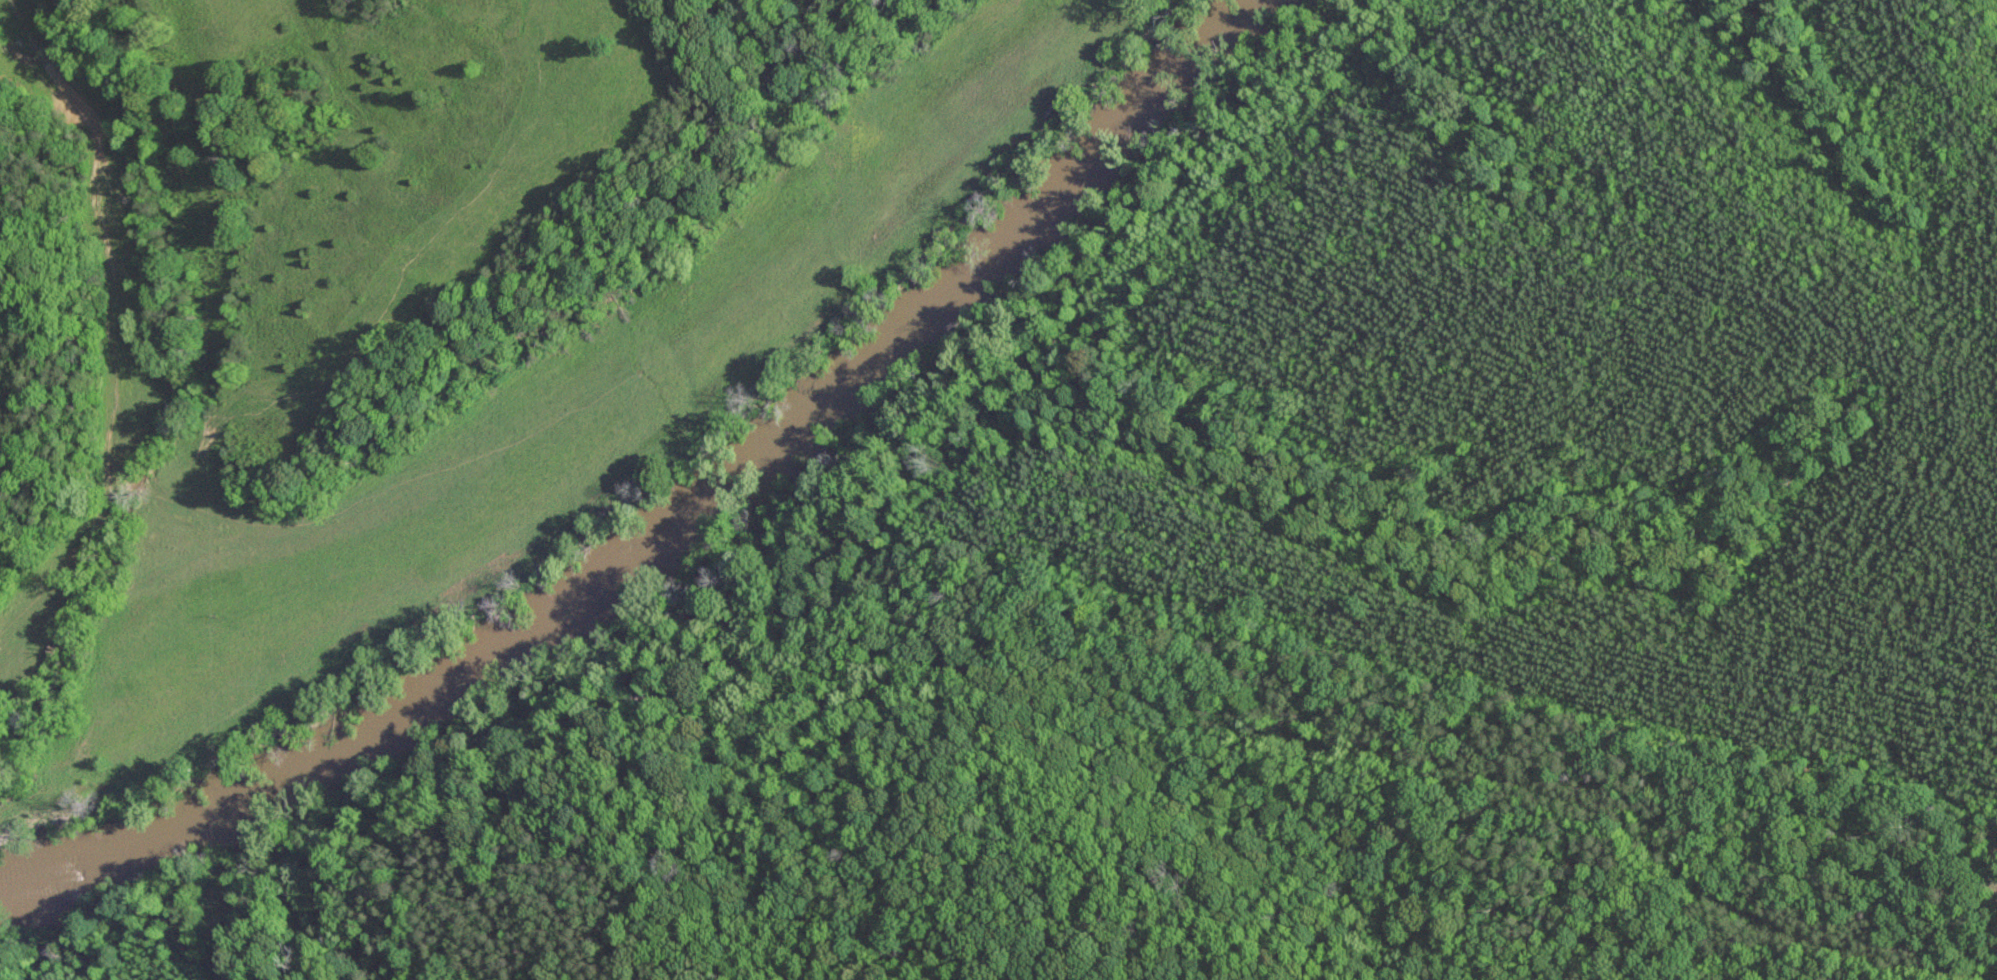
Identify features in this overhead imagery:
river: (945, 299)
river: (444, 695)
river: (132, 861)

